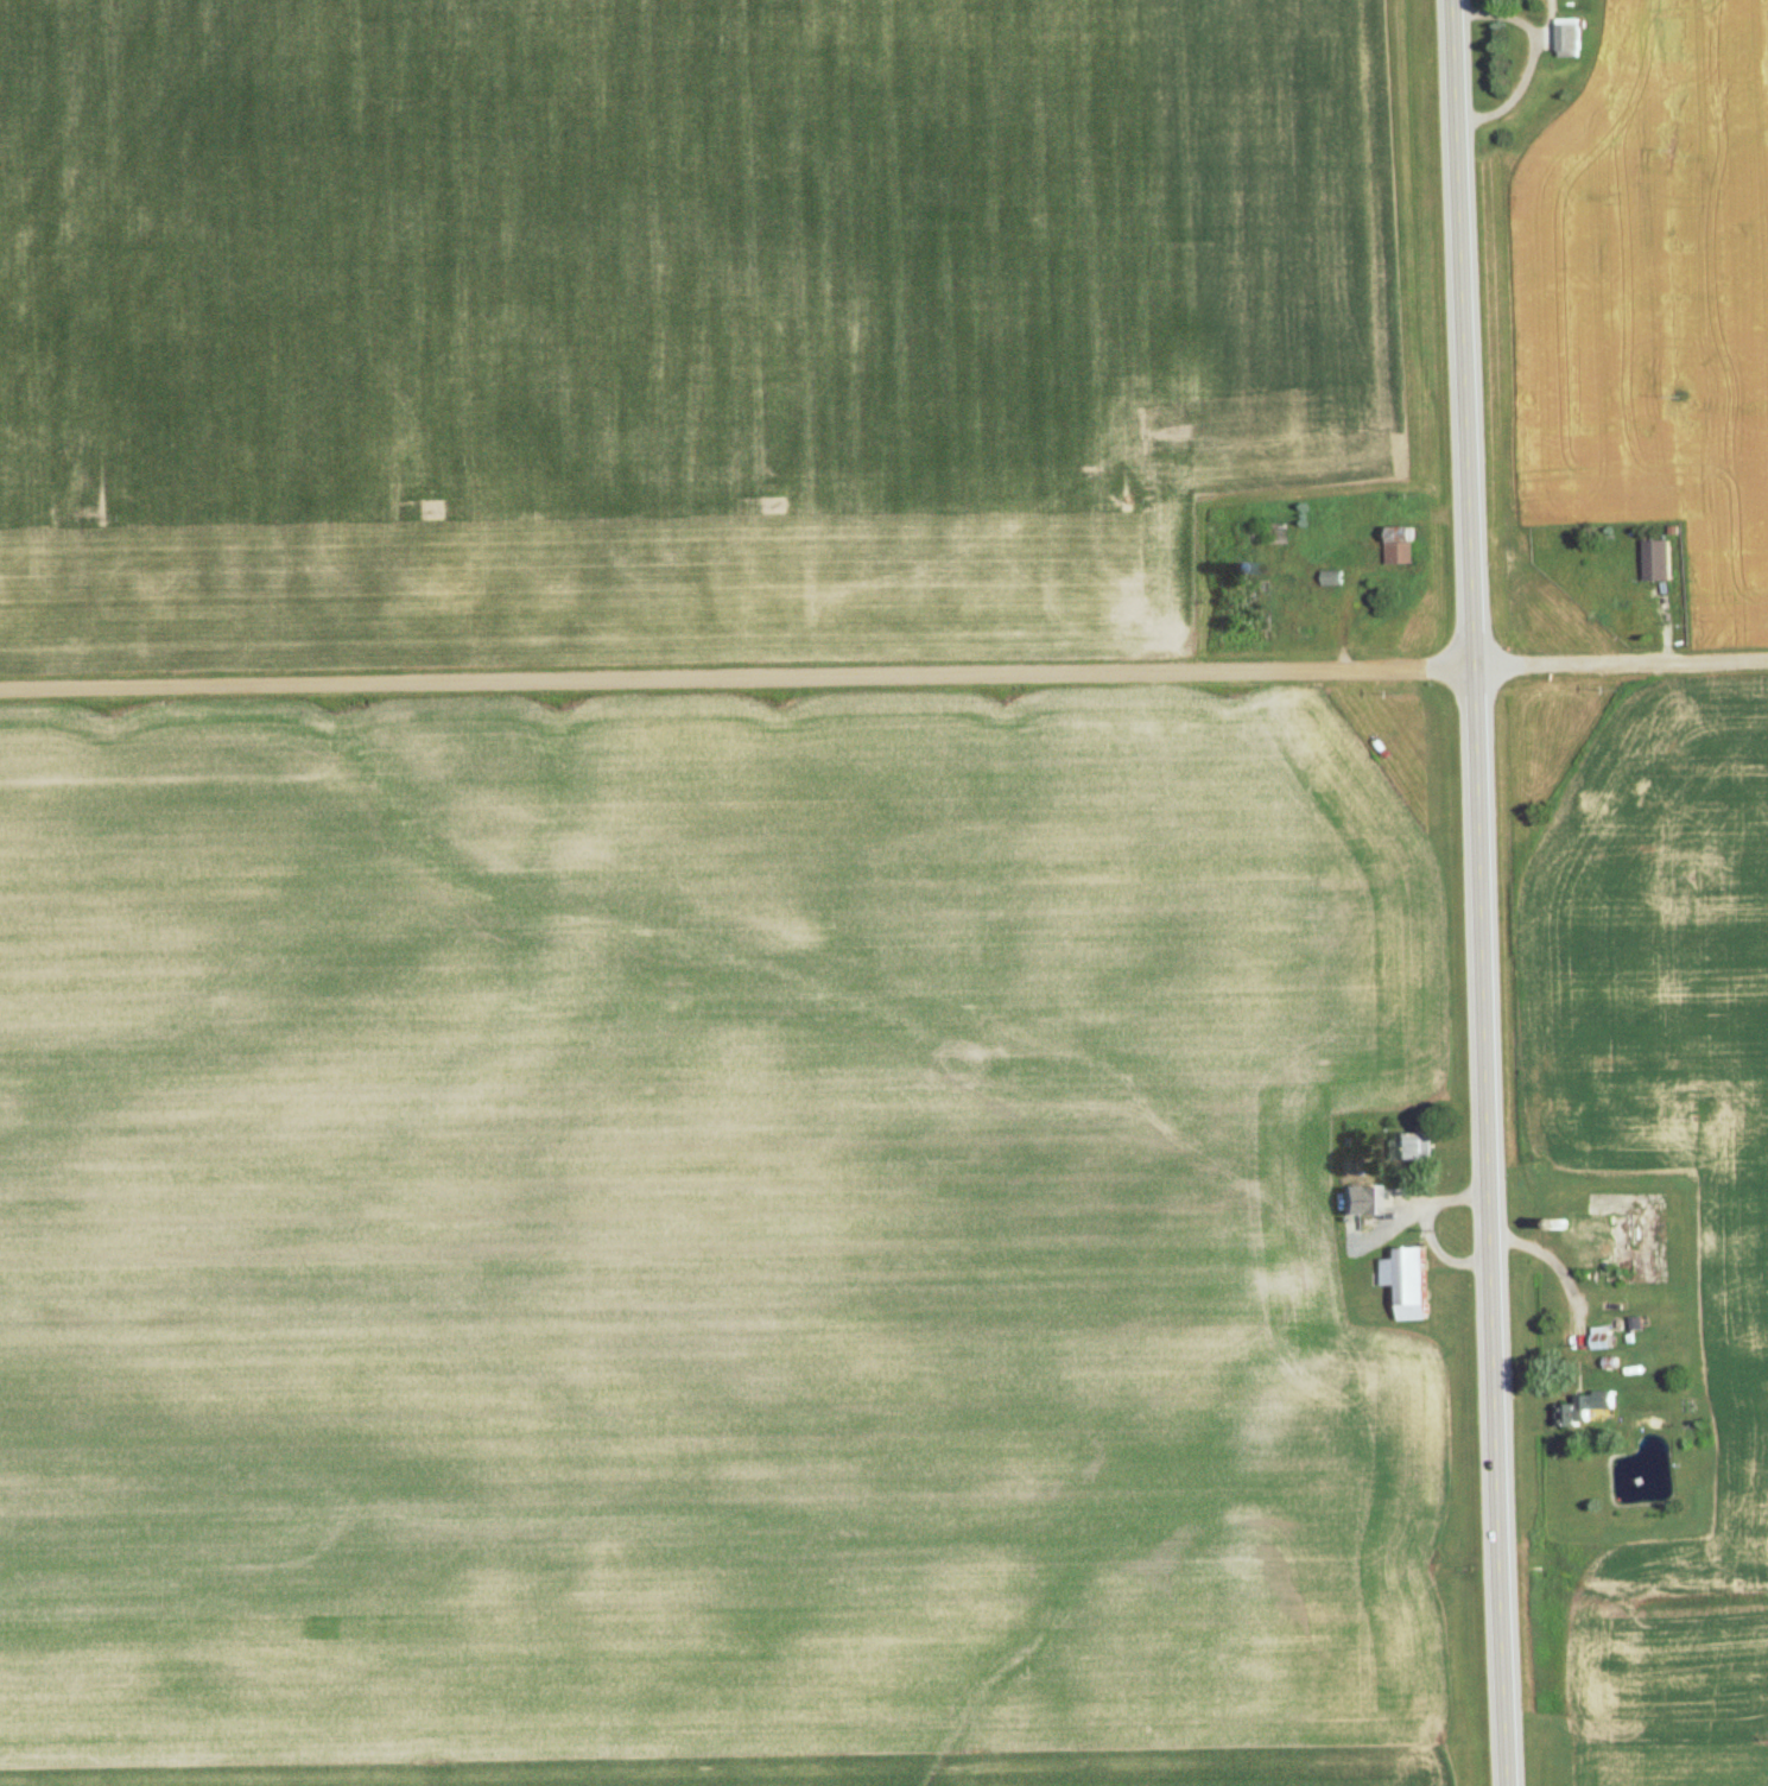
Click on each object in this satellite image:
building: (1648, 560)
road: (1622, 658)
road: (739, 676)
road: (1483, 893)
building: (1408, 1149)
building: (1351, 1202)

